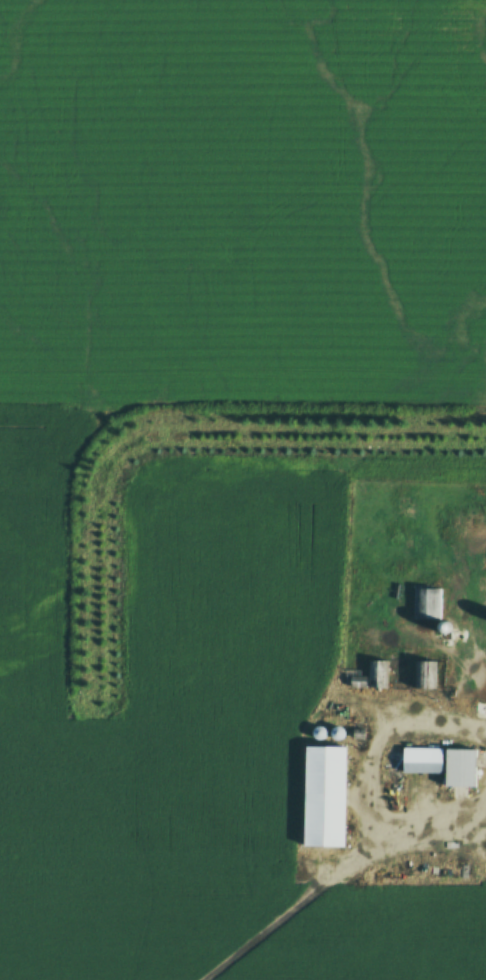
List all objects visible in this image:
building: (427, 601)
building: (443, 625)
silo: (443, 625)
building: (377, 673)
building: (423, 673)
building: (318, 731)
silo: (318, 731)
building: (336, 731)
silo: (336, 731)
building: (443, 763)
road: (369, 778)
building: (324, 794)

